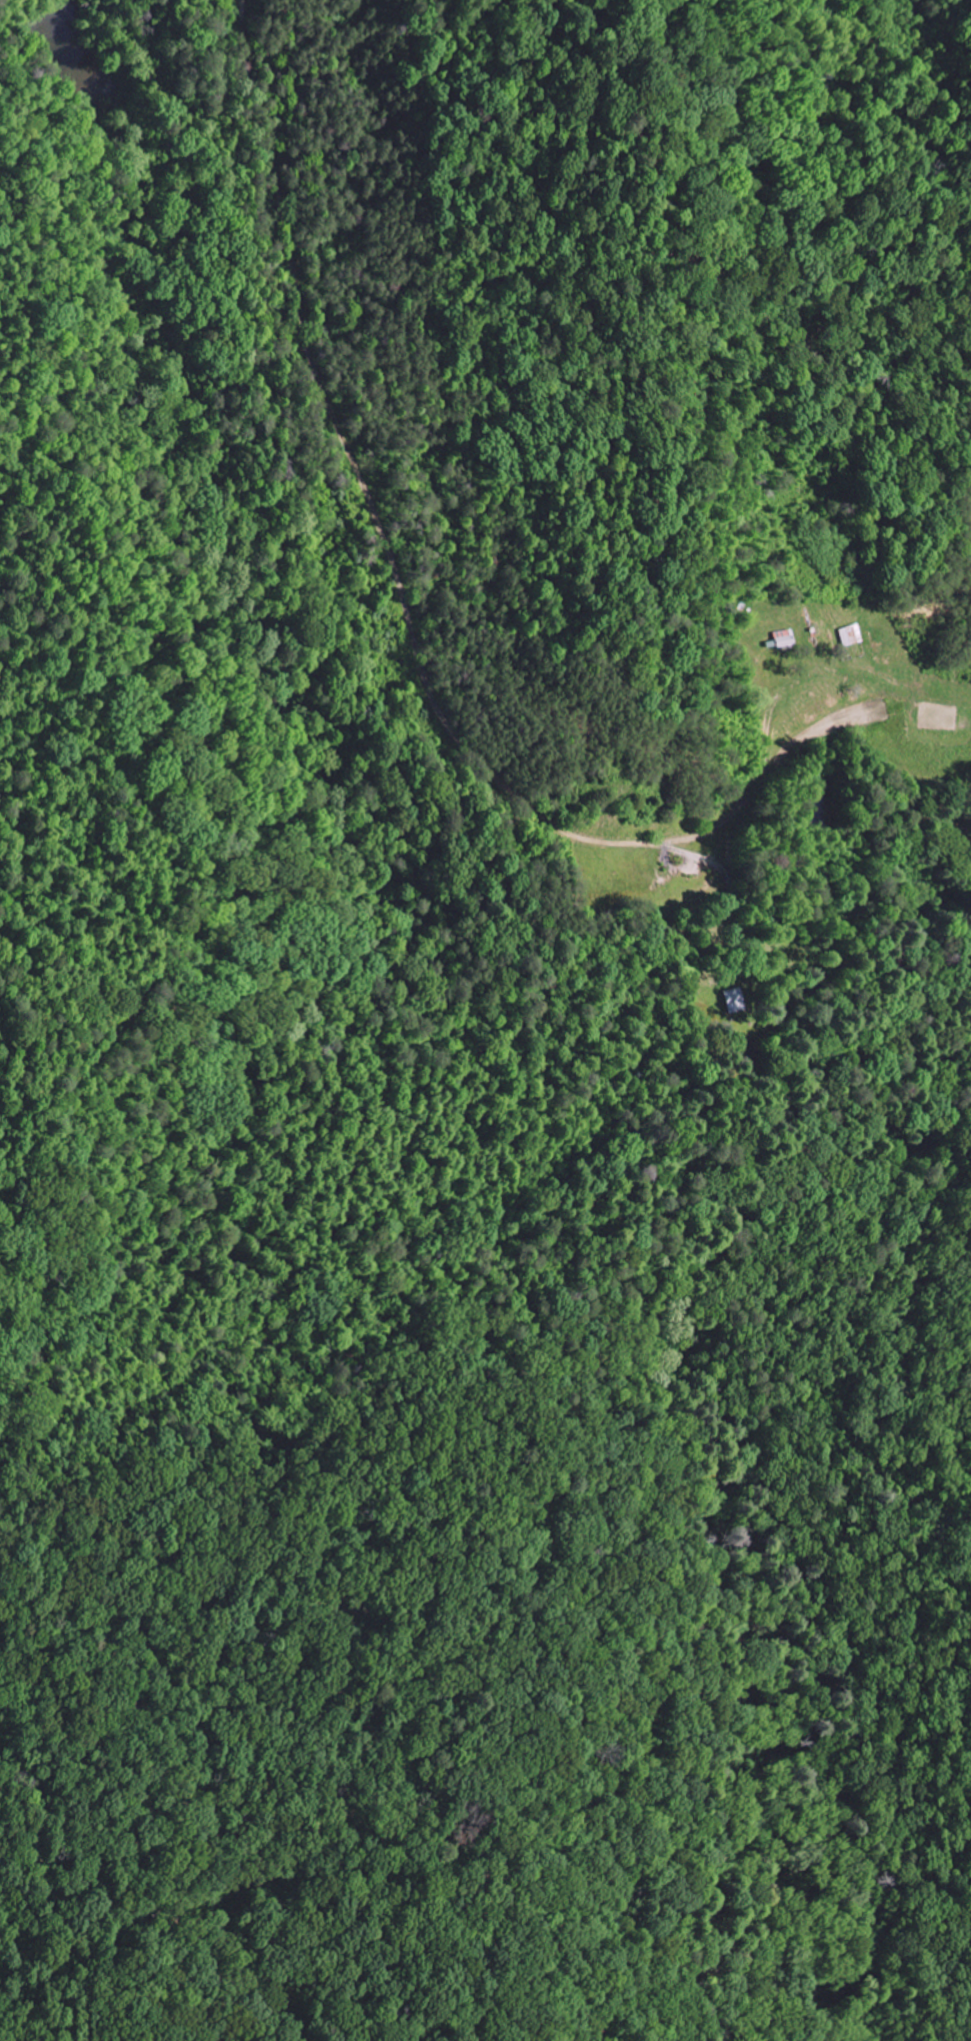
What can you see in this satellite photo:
building: (782, 639)
building: (736, 1001)

